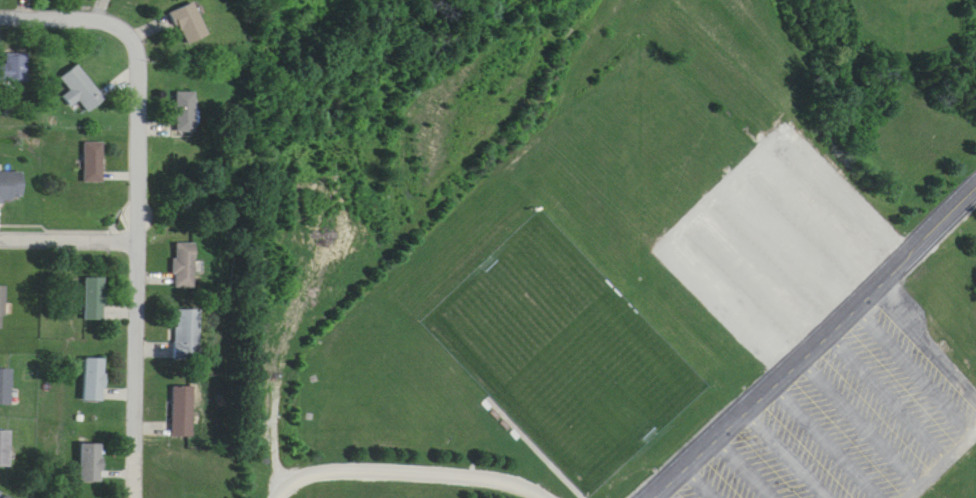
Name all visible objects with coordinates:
building: (190, 24)
building: (14, 69)
building: (81, 89)
building: (186, 113)
building: (94, 162)
building: (11, 185)
road: (138, 193)
road: (69, 227)
parking lot: (774, 232)
building: (184, 265)
building: (95, 298)
building: (3, 307)
road: (925, 330)
building: (187, 334)
road: (808, 341)
park: (564, 353)
road: (915, 359)
building: (95, 380)
building: (6, 386)
road: (889, 386)
building: (183, 411)
road: (861, 411)
parking lot: (838, 415)
road: (833, 436)
building: (6, 448)
road: (791, 450)
road: (936, 460)
road: (414, 461)
building: (93, 462)
road: (284, 463)
road: (751, 463)
road: (705, 477)
road: (663, 491)
building: (5, 496)

